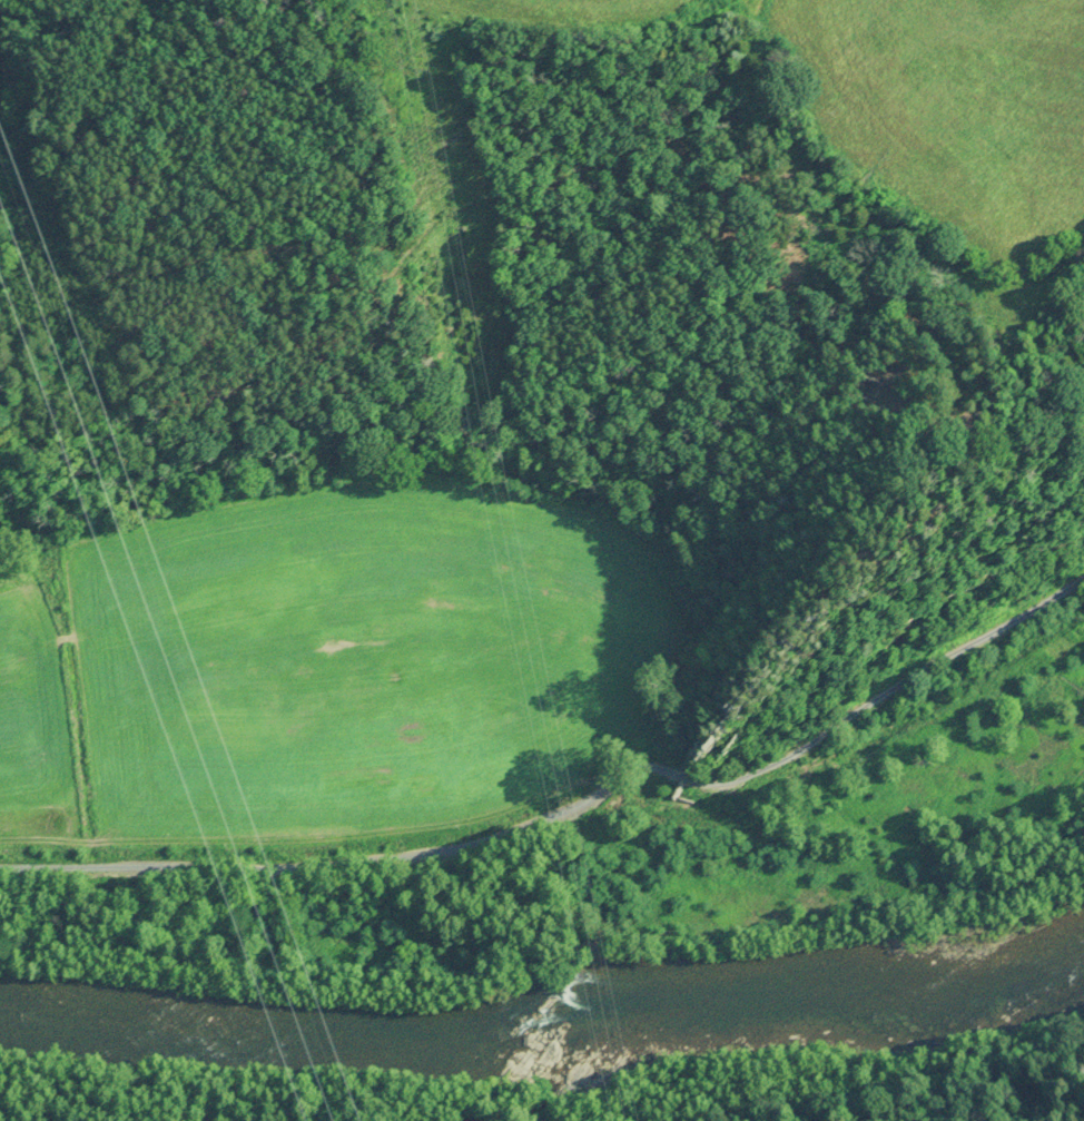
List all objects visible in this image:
road: (578, 806)
river: (541, 1011)
power tower: (710, 1039)

